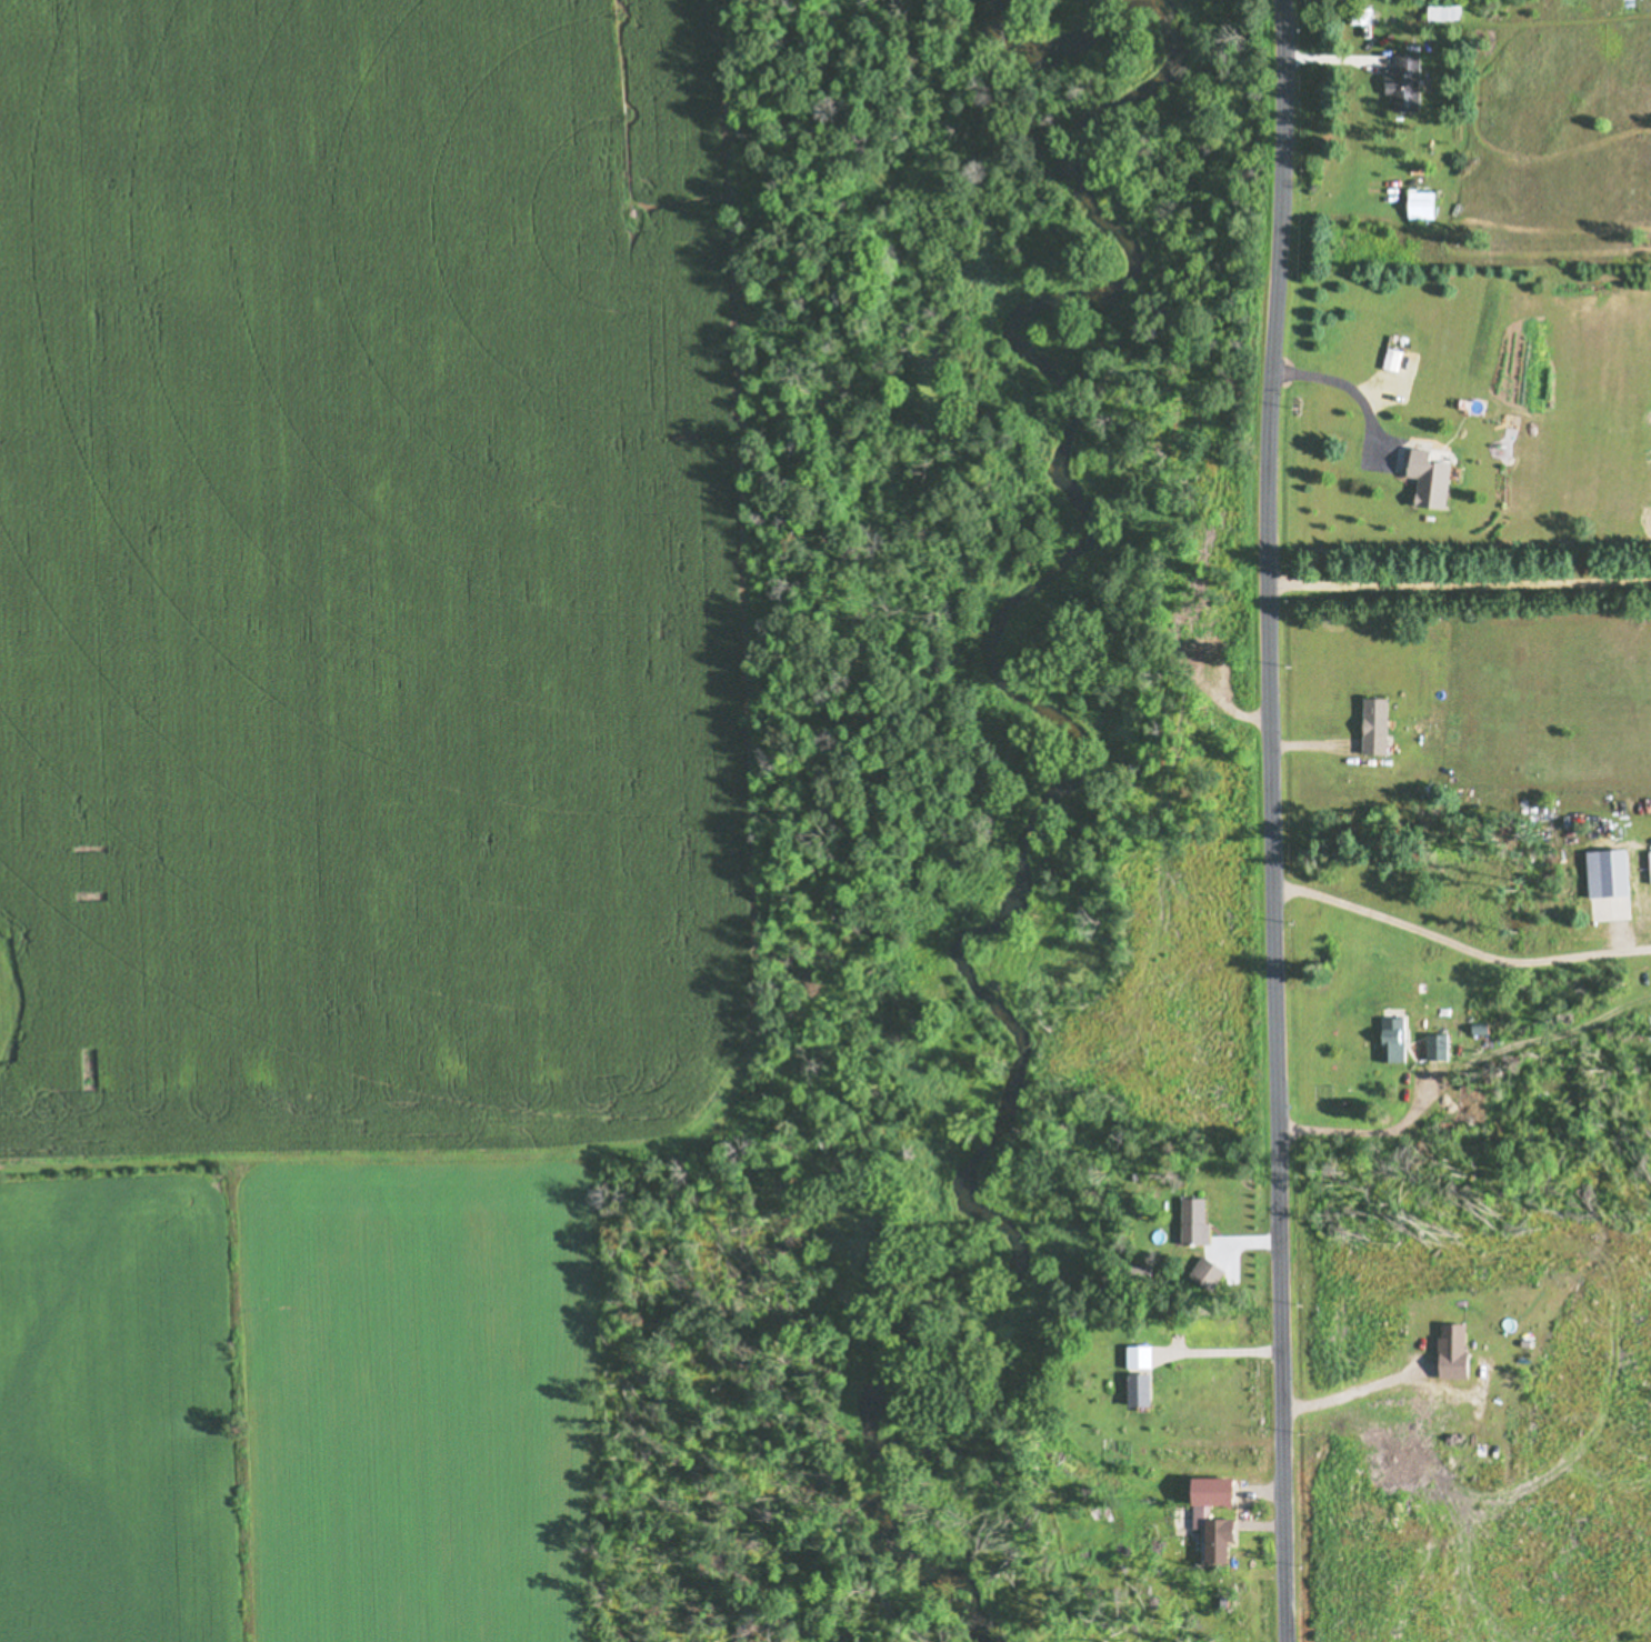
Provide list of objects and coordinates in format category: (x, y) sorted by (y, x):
building: (1440, 12)
building: (1400, 83)
building: (1418, 206)
building: (1393, 360)
road: (1344, 390)
building: (1425, 483)
road: (1459, 587)
building: (1370, 725)
road: (1270, 820)
building: (1602, 872)
road: (1458, 939)
crop: (221, 980)
building: (1389, 1039)
building: (1190, 1222)
building: (1447, 1339)
building: (1133, 1356)
building: (1133, 1390)
building: (1204, 1491)
building: (1213, 1540)

